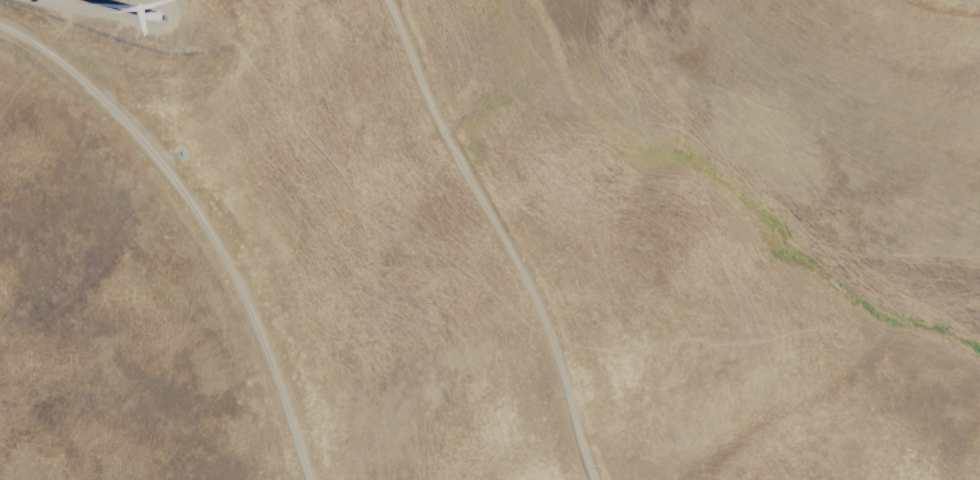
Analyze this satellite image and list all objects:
road: (69, 13)
wind turbine: (162, 15)
road: (191, 223)
road: (497, 235)

